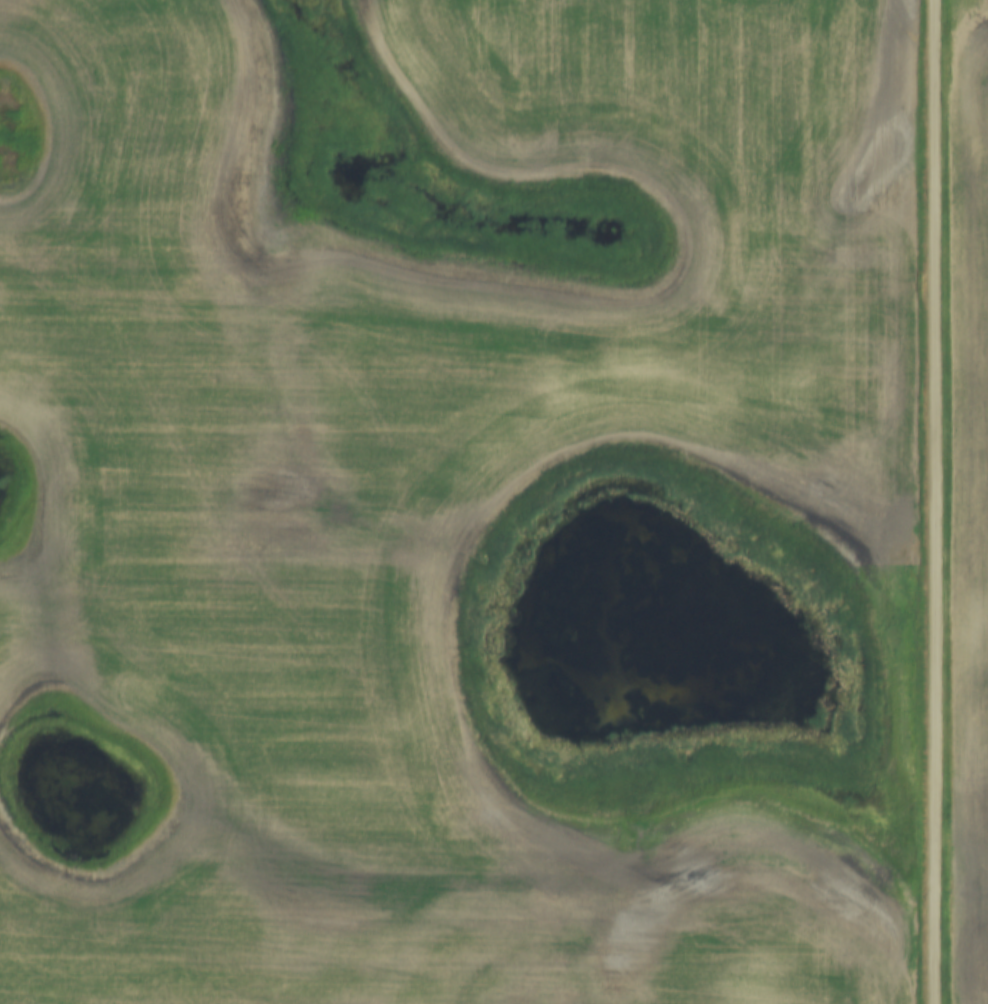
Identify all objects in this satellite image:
road: (942, 502)

